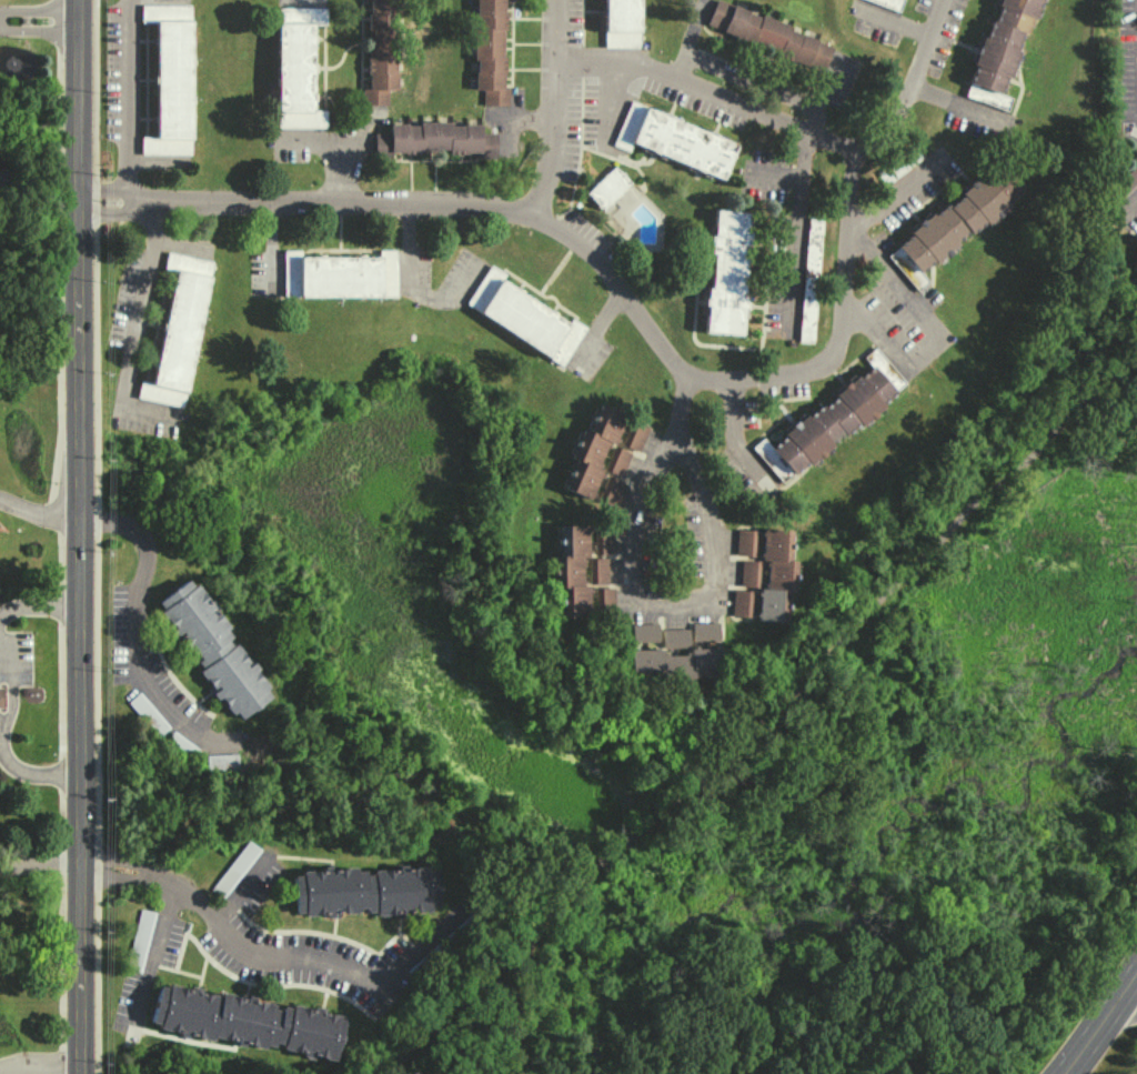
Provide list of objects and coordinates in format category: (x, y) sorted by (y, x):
building: (887, 2)
road: (38, 16)
road: (894, 21)
building: (620, 23)
building: (767, 34)
road: (685, 41)
building: (489, 51)
building: (999, 51)
building: (295, 67)
building: (170, 79)
road: (772, 86)
road: (129, 101)
road: (956, 101)
road: (610, 103)
road: (554, 108)
road: (521, 114)
road: (812, 120)
road: (792, 130)
building: (435, 138)
building: (673, 140)
road: (326, 151)
building: (2, 172)
road: (773, 173)
building: (607, 188)
road: (895, 192)
road: (450, 200)
road: (1129, 207)
road: (795, 232)
road: (270, 244)
building: (1135, 265)
building: (726, 272)
building: (339, 274)
building: (809, 280)
road: (411, 285)
road: (141, 298)
building: (524, 315)
road: (594, 324)
building: (178, 331)
road: (936, 331)
road: (846, 333)
building: (831, 418)
road: (733, 433)
building: (634, 435)
building: (592, 450)
building: (616, 460)
building: (610, 490)
road: (39, 512)
road: (79, 536)
road: (94, 536)
building: (603, 541)
building: (744, 542)
road: (631, 551)
building: (771, 562)
building: (571, 571)
building: (597, 575)
building: (604, 598)
building: (739, 603)
road: (135, 604)
building: (767, 604)
road: (38, 606)
building: (644, 632)
building: (212, 649)
building: (677, 655)
building: (148, 713)
road: (759, 714)
road: (1, 736)
building: (181, 744)
building: (221, 760)
road: (40, 861)
road: (239, 890)
building: (363, 891)
road: (224, 930)
road: (153, 951)
road: (415, 951)
road: (1130, 1000)
building: (246, 1021)
road: (1101, 1026)
road: (40, 1070)

